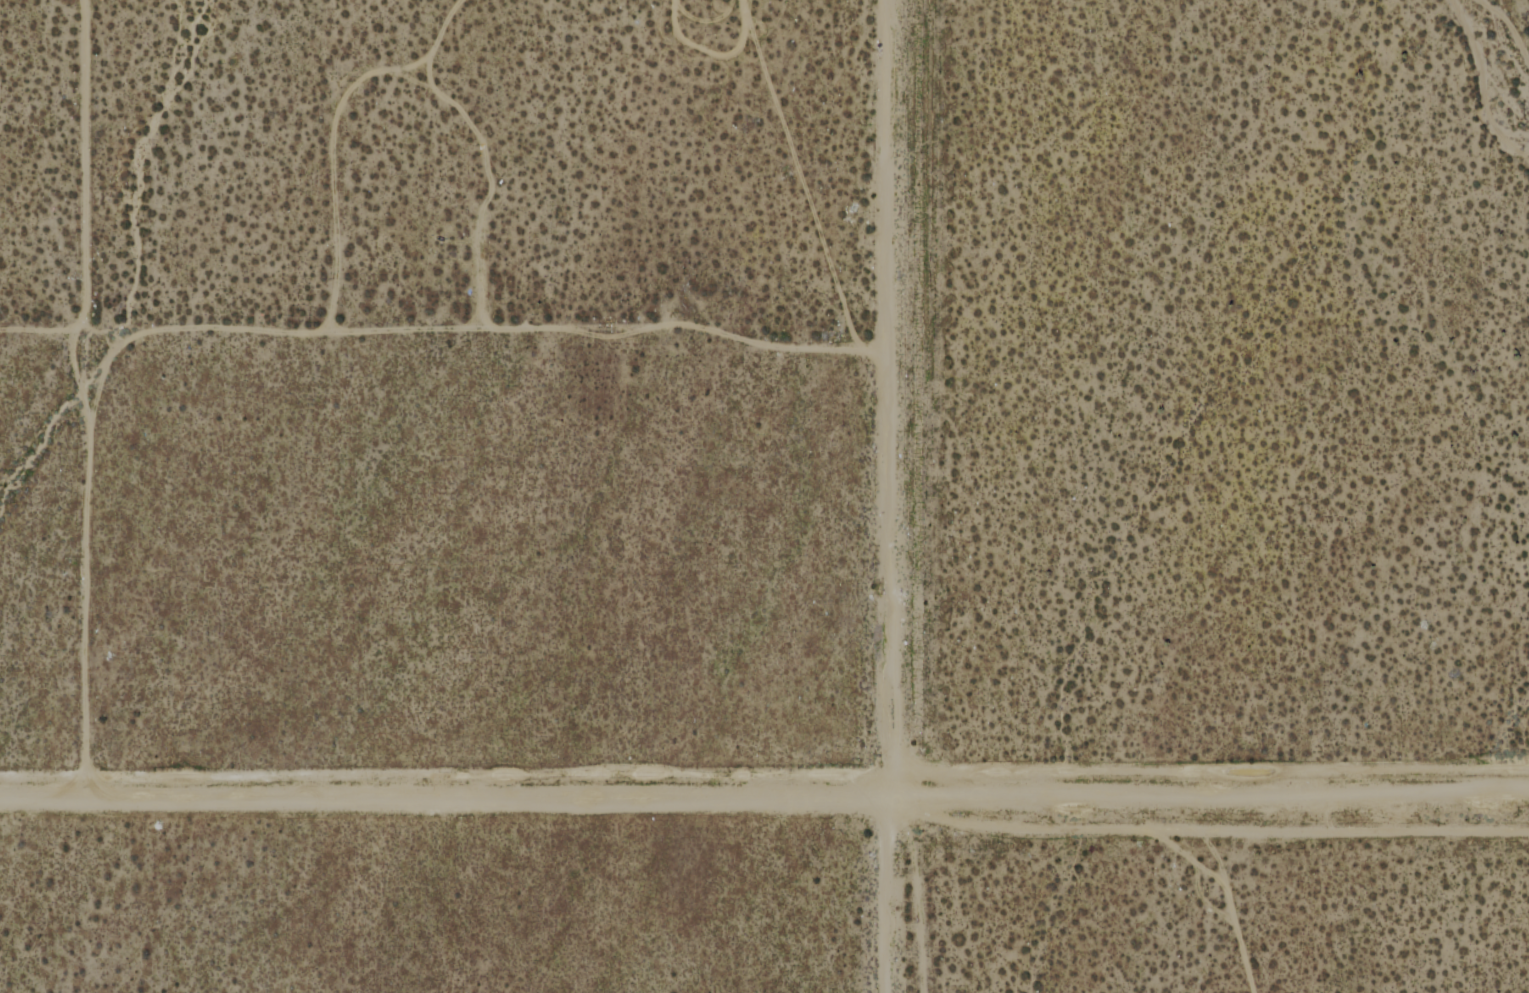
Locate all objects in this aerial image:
road: (884, 385)
road: (84, 389)
road: (1207, 769)
road: (442, 774)
road: (886, 882)

